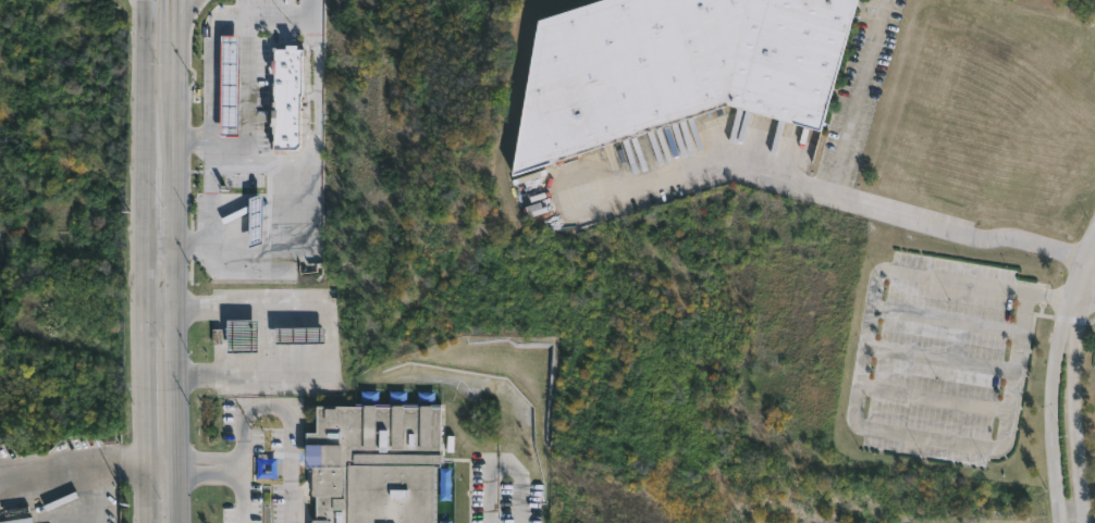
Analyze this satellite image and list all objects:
road: (184, 18)
road: (210, 39)
building: (672, 67)
building: (227, 84)
building: (288, 95)
road: (313, 142)
road: (710, 166)
road: (860, 206)
road: (161, 247)
road: (145, 261)
road: (176, 261)
road: (1087, 302)
road: (160, 307)
building: (238, 334)
building: (298, 334)
road: (330, 340)
road: (1070, 388)
road: (854, 399)
road: (292, 419)
road: (160, 461)
road: (237, 462)
building: (372, 462)
road: (496, 462)
road: (72, 473)
road: (76, 498)

